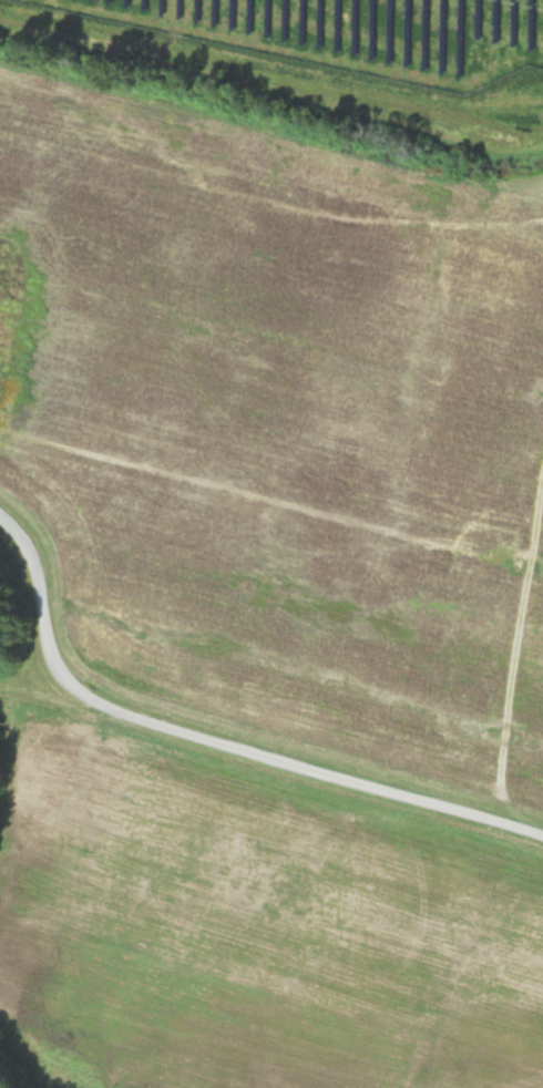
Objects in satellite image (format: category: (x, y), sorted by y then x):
road: (206, 740)

